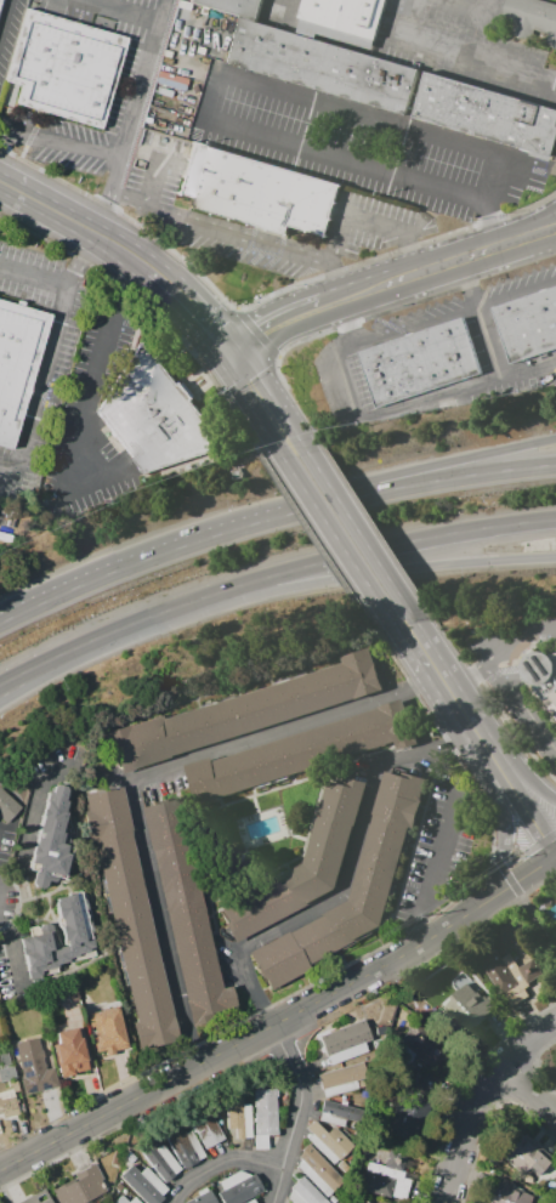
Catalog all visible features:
building: (0, 1)
building: (233, 7)
road: (291, 7)
road: (459, 10)
road: (120, 12)
road: (4, 13)
building: (345, 15)
building: (529, 19)
road: (489, 28)
road: (463, 52)
building: (66, 66)
building: (320, 66)
building: (486, 114)
road: (408, 134)
road: (52, 141)
road: (330, 158)
road: (159, 182)
road: (38, 191)
building: (257, 192)
road: (135, 199)
road: (350, 216)
road: (427, 216)
road: (554, 228)
road: (554, 228)
road: (521, 229)
road: (74, 232)
road: (240, 233)
road: (518, 240)
road: (95, 251)
road: (412, 252)
road: (166, 267)
road: (403, 277)
road: (35, 279)
road: (336, 280)
road: (469, 283)
road: (516, 295)
road: (182, 319)
road: (350, 322)
building: (527, 324)
road: (280, 325)
road: (416, 328)
traffic signals: (240, 347)
road: (229, 354)
building: (17, 362)
traffic signals: (219, 363)
building: (418, 363)
road: (104, 365)
road: (499, 370)
road: (270, 395)
road: (248, 407)
road: (391, 409)
building: (154, 414)
road: (414, 471)
road: (415, 490)
road: (367, 539)
road: (376, 543)
road: (347, 550)
road: (135, 562)
road: (379, 575)
road: (120, 630)
road: (18, 675)
building: (541, 677)
road: (18, 680)
road: (500, 680)
road: (465, 682)
road: (455, 687)
building: (242, 713)
road: (453, 716)
building: (300, 751)
road: (517, 770)
road: (141, 774)
road: (520, 791)
building: (7, 806)
road: (523, 817)
road: (448, 822)
building: (52, 840)
road: (503, 844)
road: (552, 855)
building: (303, 863)
building: (379, 863)
road: (506, 869)
road: (344, 876)
building: (186, 914)
road: (534, 914)
building: (130, 917)
building: (555, 926)
building: (78, 934)
building: (509, 974)
building: (469, 1005)
road: (278, 1021)
building: (108, 1029)
building: (345, 1040)
building: (421, 1045)
building: (69, 1051)
building: (4, 1059)
building: (35, 1066)
building: (7, 1073)
building: (340, 1079)
road: (526, 1089)
road: (471, 1096)
building: (7, 1103)
building: (335, 1112)
building: (265, 1116)
building: (405, 1116)
building: (238, 1118)
building: (206, 1127)
building: (345, 1133)
building: (328, 1141)
building: (185, 1145)
road: (286, 1153)
building: (526, 1153)
building: (130, 1157)
building: (118, 1158)
building: (160, 1159)
building: (317, 1170)
building: (386, 1178)
building: (144, 1184)
road: (278, 1185)
building: (119, 1186)
building: (81, 1187)
building: (239, 1187)
building: (303, 1192)
building: (505, 1193)
building: (203, 1197)
building: (36, 1198)
building: (123, 1199)
building: (555, 1201)
building: (246, 1202)
building: (361, 1202)

